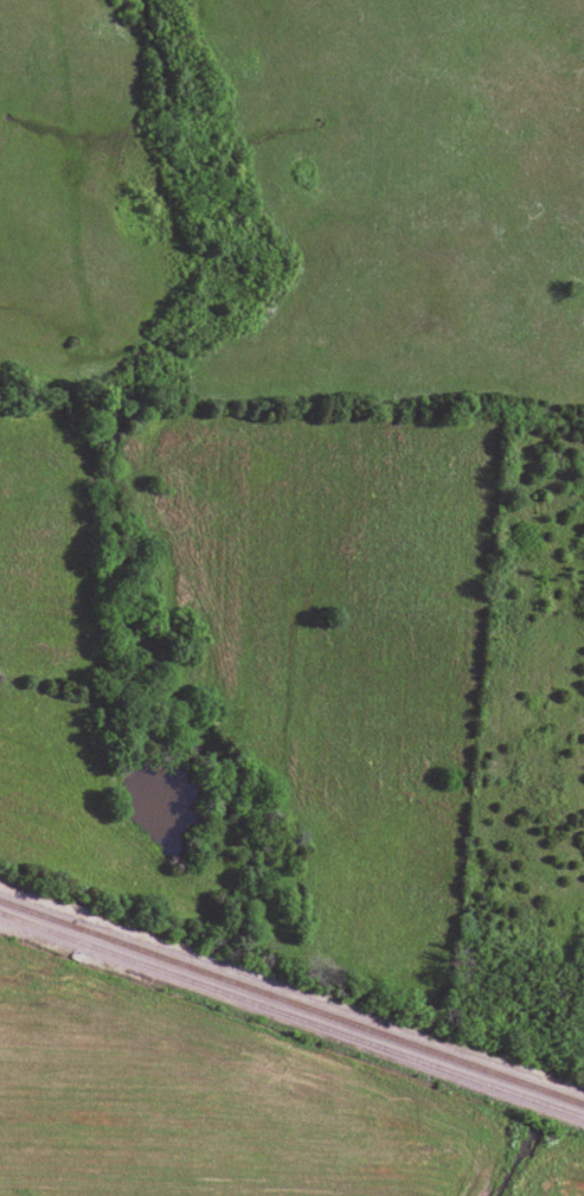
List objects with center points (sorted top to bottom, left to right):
railway: (291, 1003)
railway: (291, 1015)

